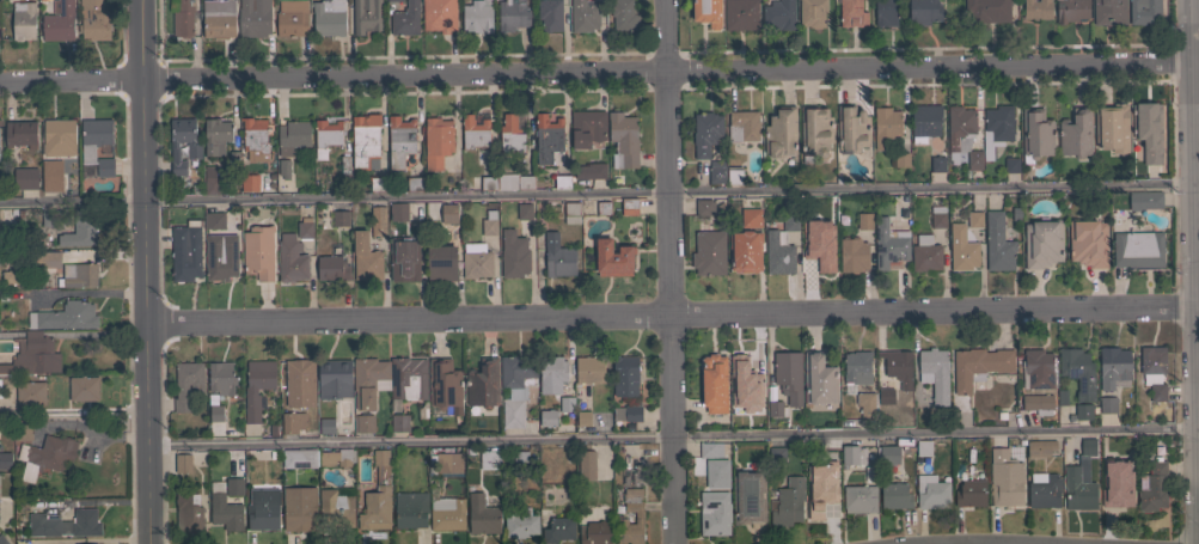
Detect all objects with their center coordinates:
building: (393, 0)
building: (44, 1)
building: (989, 10)
building: (1036, 10)
building: (1108, 10)
building: (1069, 11)
building: (1144, 11)
building: (706, 12)
building: (923, 12)
building: (1198, 12)
building: (812, 13)
building: (852, 13)
building: (885, 13)
building: (512, 14)
building: (550, 14)
building: (740, 14)
building: (779, 14)
building: (366, 16)
building: (439, 16)
building: (477, 16)
building: (583, 16)
building: (623, 16)
building: (183, 18)
building: (218, 18)
building: (292, 18)
building: (329, 18)
building: (96, 19)
building: (251, 19)
building: (405, 19)
building: (23, 20)
building: (59, 22)
road: (595, 73)
road: (1195, 87)
building: (924, 122)
building: (742, 126)
building: (886, 126)
building: (587, 128)
building: (996, 128)
building: (1112, 128)
building: (852, 129)
building: (959, 129)
building: (475, 130)
building: (1148, 130)
building: (60, 132)
building: (705, 133)
building: (781, 133)
building: (815, 133)
building: (1076, 133)
building: (20, 134)
building: (1036, 134)
building: (215, 135)
building: (510, 135)
building: (293, 136)
building: (326, 136)
building: (94, 137)
building: (547, 137)
building: (255, 139)
building: (365, 140)
building: (623, 140)
building: (400, 141)
building: (438, 141)
building: (194, 153)
building: (234, 157)
building: (900, 159)
building: (973, 160)
road: (1197, 163)
building: (937, 164)
building: (194, 165)
building: (1011, 165)
building: (105, 167)
building: (285, 169)
building: (591, 171)
building: (717, 171)
building: (51, 176)
building: (733, 176)
building: (25, 178)
building: (210, 181)
building: (265, 181)
building: (514, 181)
building: (764, 181)
building: (562, 182)
building: (249, 183)
building: (378, 183)
building: (414, 183)
building: (489, 183)
road: (597, 192)
building: (904, 197)
building: (1144, 200)
building: (1115, 203)
building: (629, 207)
building: (703, 207)
building: (604, 208)
building: (398, 212)
building: (519, 213)
building: (571, 213)
building: (789, 213)
building: (827, 213)
building: (448, 214)
building: (1016, 215)
building: (937, 216)
building: (341, 218)
building: (751, 218)
building: (50, 219)
building: (974, 219)
building: (214, 220)
road: (1197, 220)
building: (378, 221)
building: (864, 221)
building: (489, 224)
building: (526, 226)
building: (305, 228)
building: (79, 231)
road: (1195, 237)
building: (1085, 242)
building: (997, 243)
building: (1042, 243)
building: (888, 245)
building: (961, 249)
building: (1138, 249)
building: (814, 250)
building: (258, 251)
building: (745, 251)
building: (185, 252)
building: (324, 252)
building: (709, 252)
building: (778, 253)
building: (925, 253)
building: (513, 255)
building: (852, 255)
building: (558, 256)
building: (221, 257)
building: (292, 258)
building: (366, 258)
building: (612, 258)
building: (48, 259)
building: (404, 259)
building: (476, 261)
building: (441, 263)
building: (334, 265)
road: (146, 271)
road: (668, 271)
building: (78, 275)
building: (11, 277)
building: (2, 295)
road: (1198, 308)
road: (671, 316)
building: (65, 317)
building: (32, 356)
road: (1198, 363)
building: (898, 366)
building: (978, 366)
building: (1113, 366)
building: (552, 368)
building: (857, 368)
building: (1038, 368)
building: (589, 369)
building: (747, 369)
building: (1077, 371)
building: (1154, 371)
building: (934, 373)
building: (789, 375)
building: (624, 377)
building: (334, 378)
building: (408, 378)
building: (221, 379)
building: (819, 379)
building: (369, 381)
building: (299, 383)
building: (186, 384)
building: (714, 384)
building: (257, 386)
building: (445, 387)
building: (483, 387)
building: (515, 387)
building: (84, 389)
building: (30, 393)
building: (771, 393)
building: (886, 396)
building: (212, 397)
building: (1062, 397)
building: (757, 402)
building: (212, 403)
building: (1038, 403)
building: (1107, 404)
building: (867, 405)
building: (567, 408)
building: (776, 409)
building: (1095, 409)
building: (738, 410)
building: (1083, 411)
building: (632, 412)
road: (1198, 414)
building: (214, 415)
building: (1001, 415)
building: (1071, 416)
building: (547, 417)
building: (582, 418)
building: (576, 420)
building: (292, 421)
building: (363, 423)
building: (399, 423)
building: (325, 426)
building: (24, 432)
building: (273, 432)
road: (672, 439)
building: (923, 447)
building: (1040, 448)
building: (710, 450)
building: (48, 454)
building: (271, 454)
building: (887, 454)
building: (776, 456)
building: (852, 456)
building: (299, 458)
building: (337, 458)
building: (489, 458)
building: (757, 458)
building: (520, 459)
building: (5, 460)
building: (445, 462)
building: (1103, 462)
building: (183, 463)
building: (832, 464)
building: (586, 465)
building: (380, 466)
building: (710, 475)
building: (630, 477)
building: (1004, 478)
building: (1079, 481)
building: (234, 487)
building: (1152, 487)
building: (1044, 490)
building: (931, 491)
building: (969, 494)
building: (895, 496)
building: (748, 497)
building: (1118, 497)
building: (860, 499)
building: (820, 500)
building: (787, 502)
building: (336, 507)
building: (263, 508)
building: (299, 508)
building: (375, 508)
building: (410, 509)
building: (225, 512)
building: (446, 512)
building: (188, 513)
building: (714, 513)
building: (638, 514)
building: (482, 515)
building: (520, 522)
building: (81, 524)
building: (43, 525)
building: (557, 528)
building: (595, 533)
building: (2, 540)

